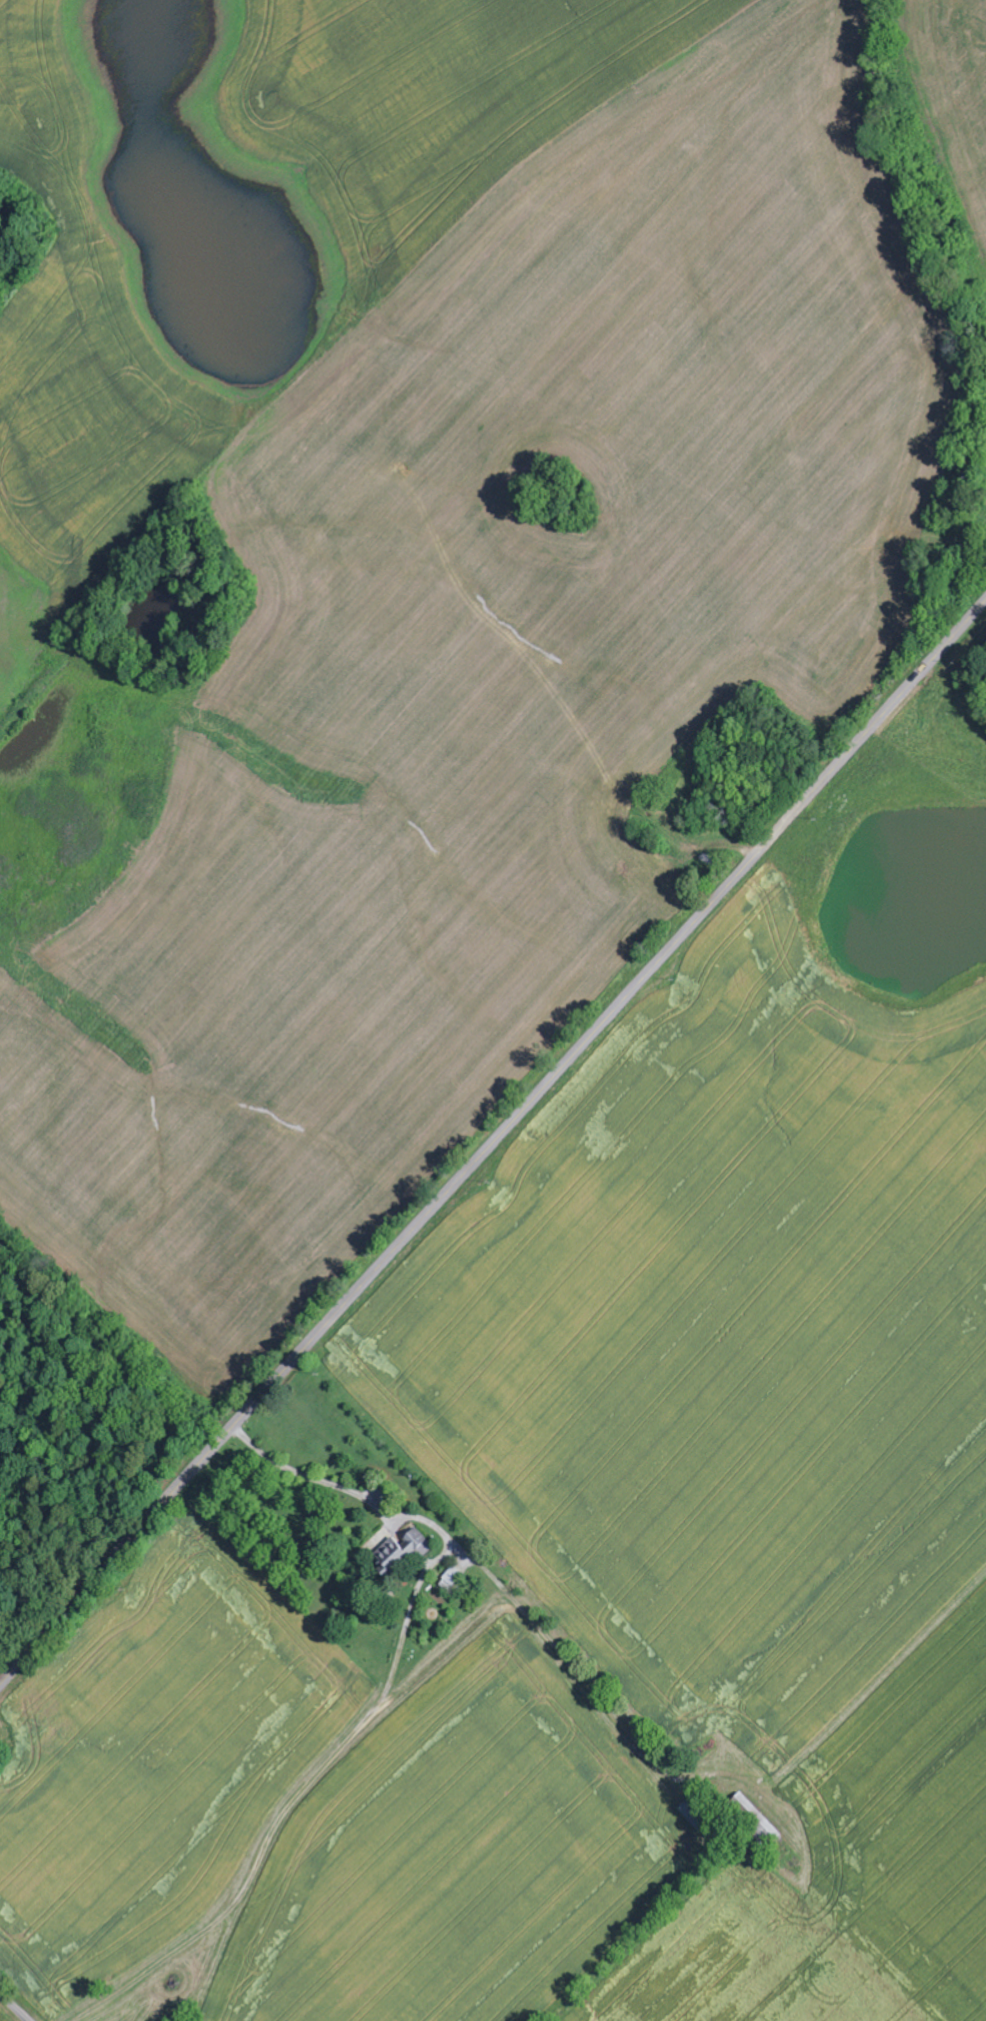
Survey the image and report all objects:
road: (494, 1141)
building: (403, 1555)
building: (454, 1576)
road: (526, 1600)
road: (11, 2009)

